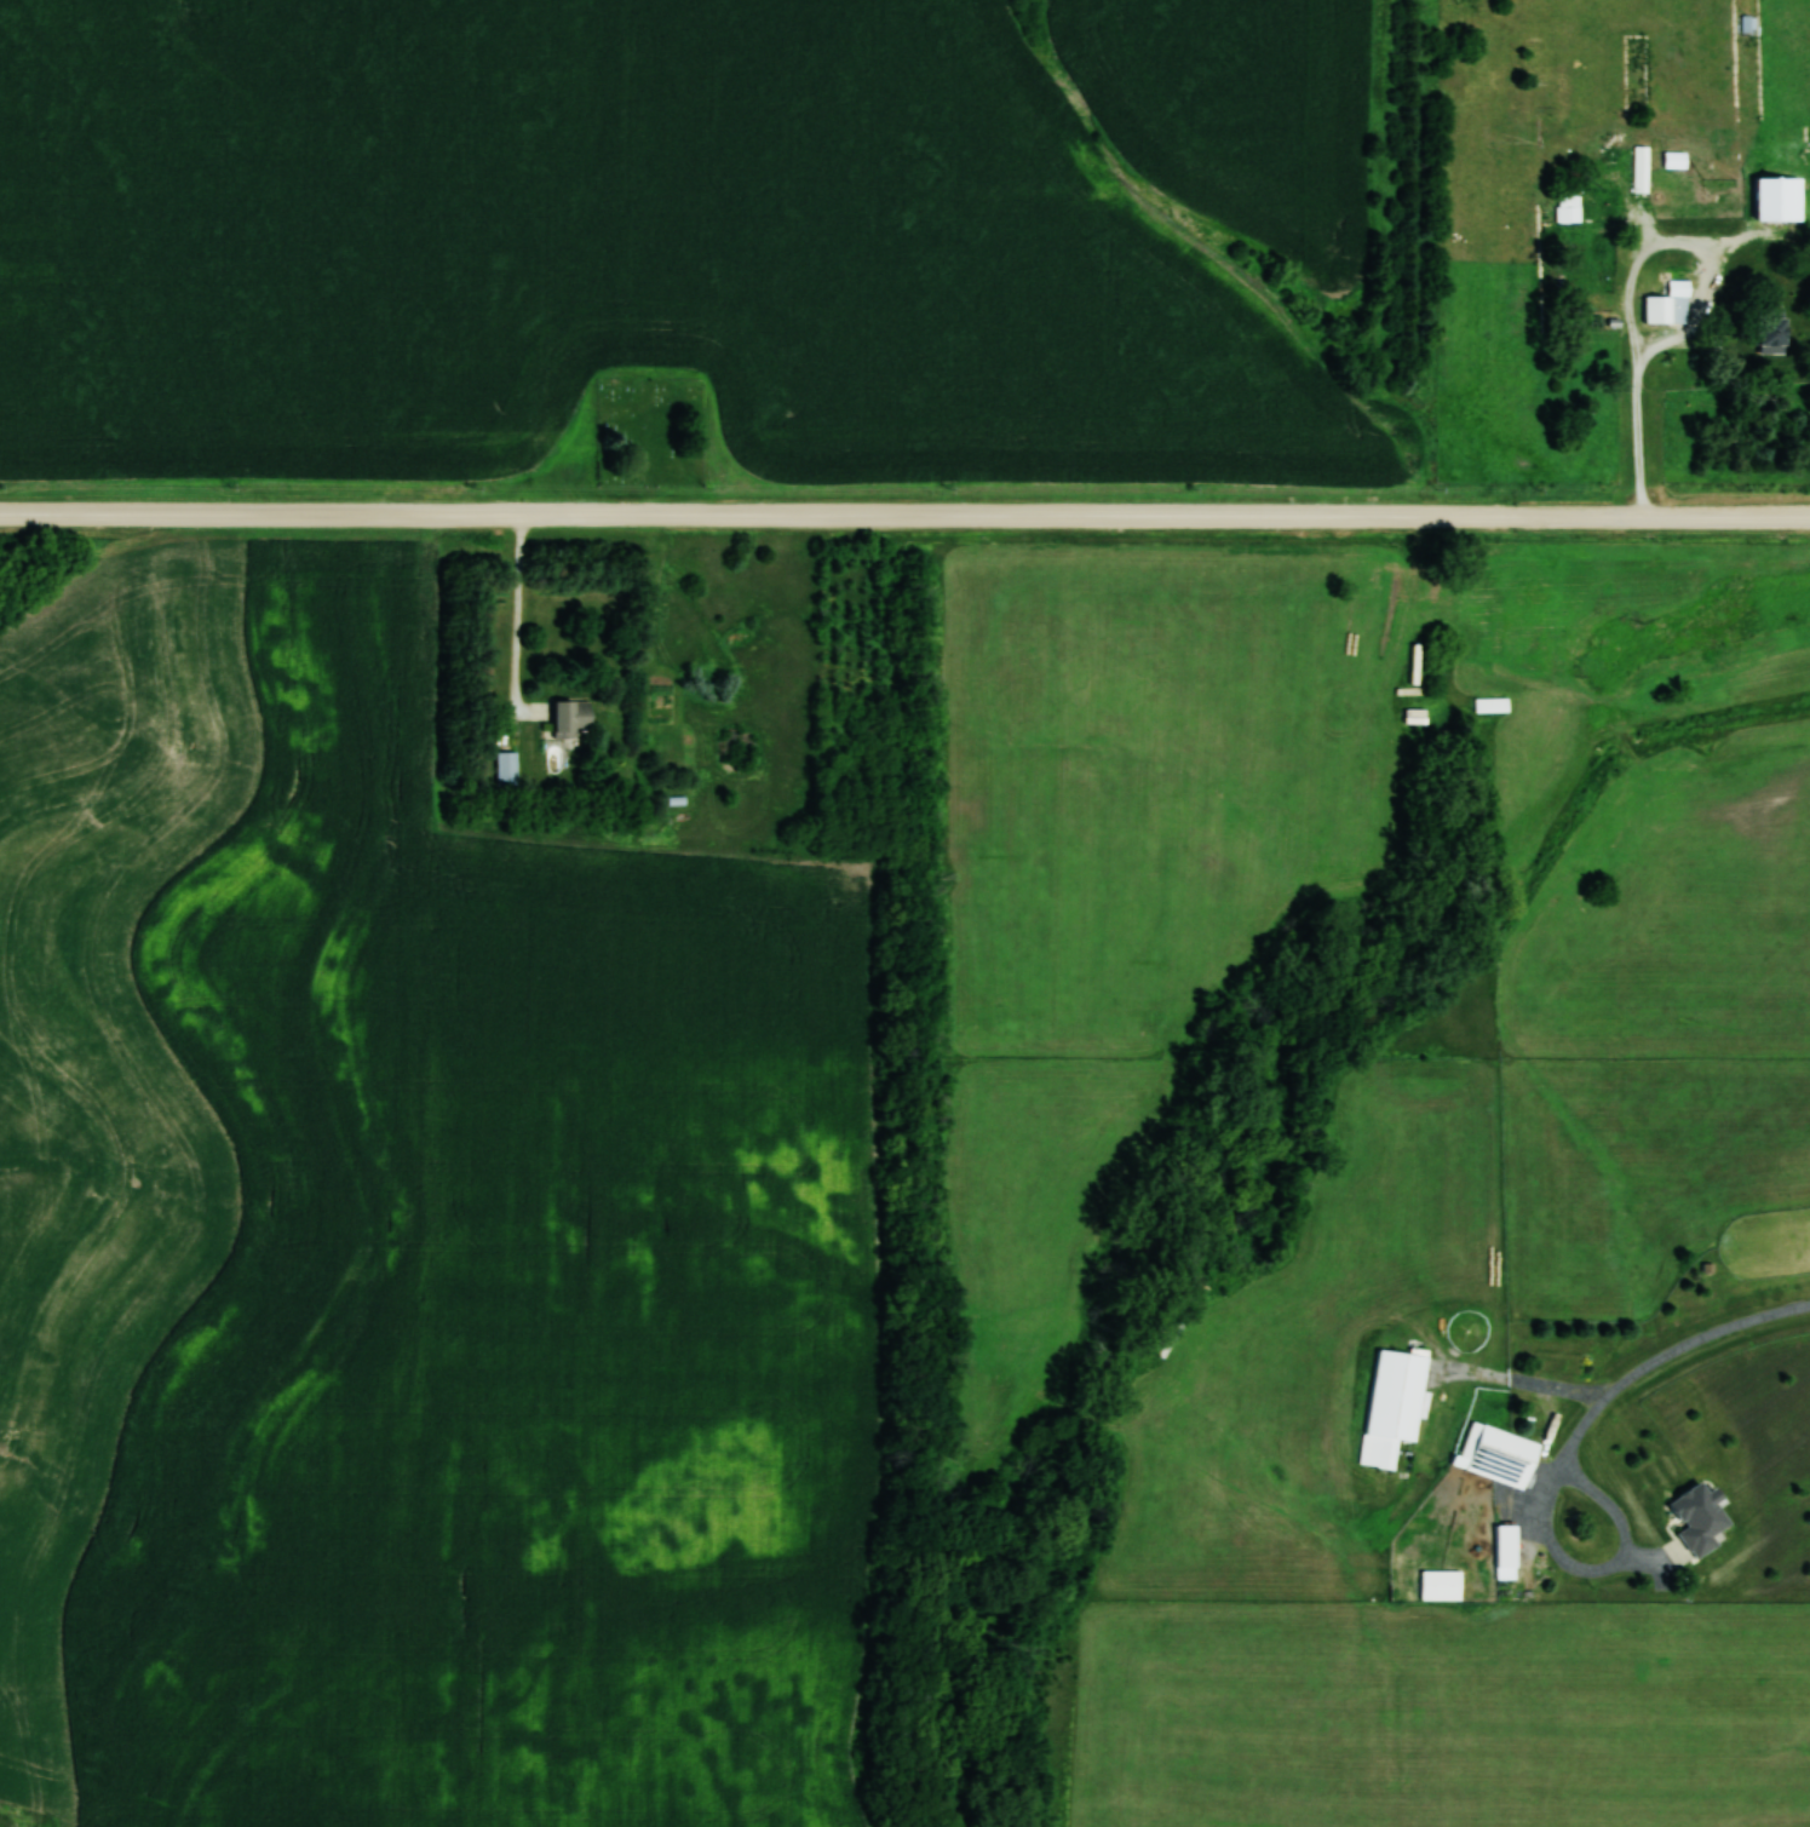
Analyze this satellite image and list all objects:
building: (1747, 24)
building: (1641, 168)
building: (1777, 199)
building: (1568, 208)
road: (1631, 283)
building: (1668, 304)
building: (1763, 324)
road: (904, 515)
building: (1490, 705)
building: (569, 717)
building: (505, 769)
road: (1665, 1357)
building: (1396, 1392)
building: (1496, 1453)
building: (1699, 1517)
building: (1505, 1545)
road: (1603, 1570)
building: (1440, 1584)

